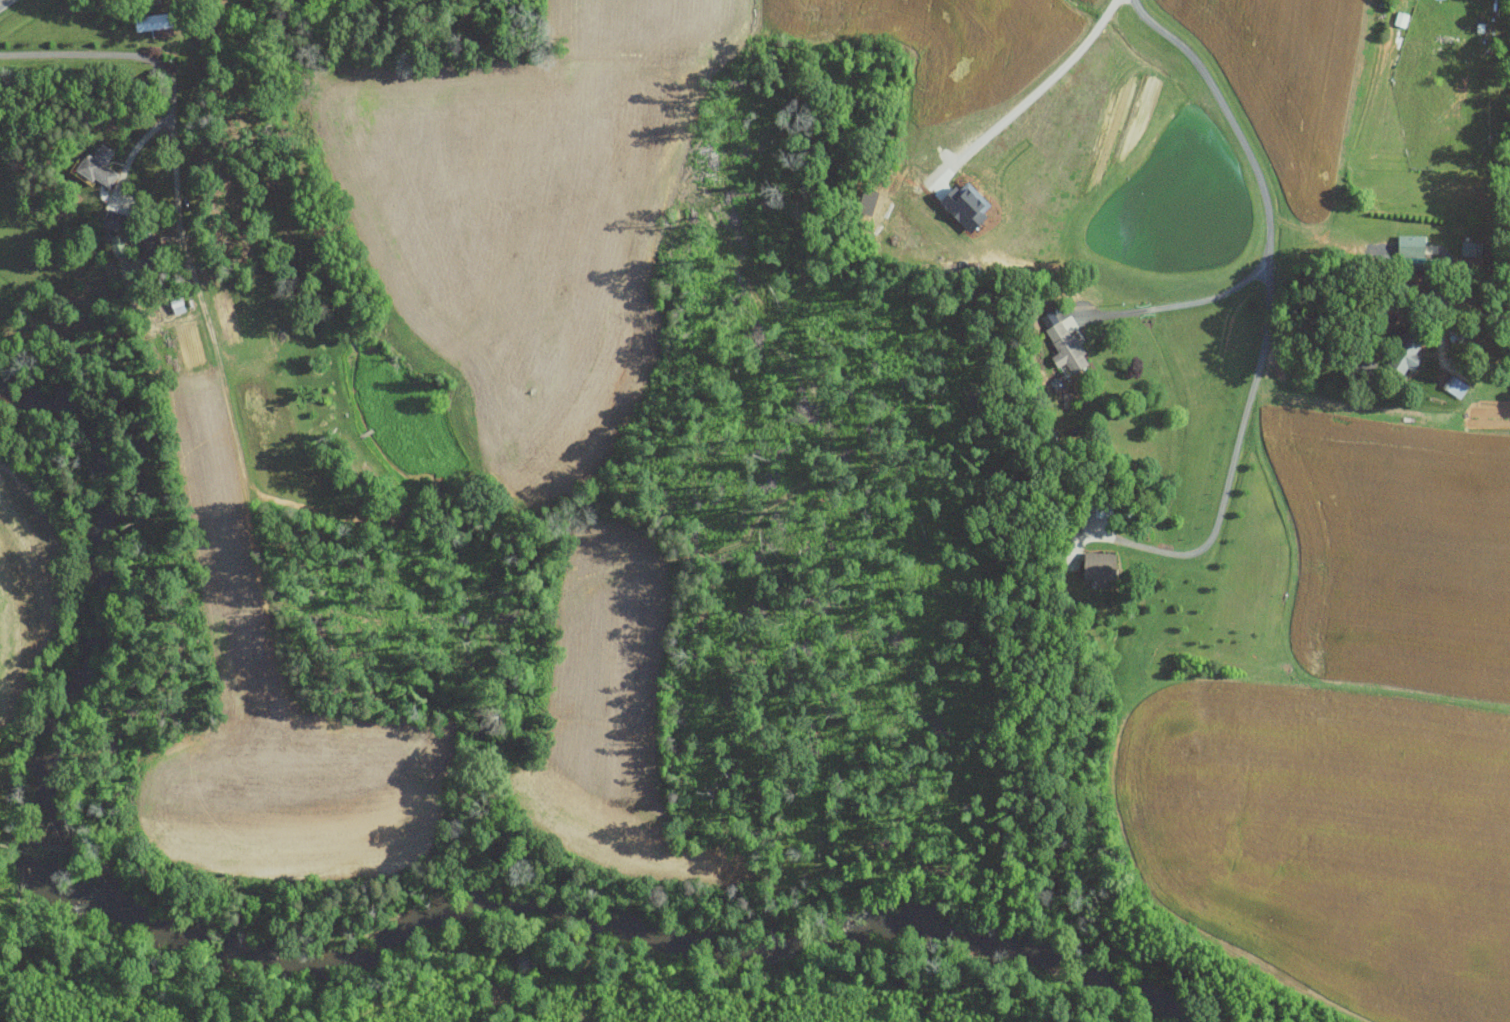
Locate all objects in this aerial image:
road: (3, 3)
building: (1402, 18)
building: (155, 21)
road: (1051, 83)
road: (170, 110)
building: (99, 167)
building: (117, 219)
building: (118, 243)
building: (1413, 244)
road: (1271, 297)
road: (1184, 300)
building: (1068, 345)
building: (1409, 352)
road: (1322, 354)
building: (1456, 384)
building: (1101, 506)
building: (1102, 565)

